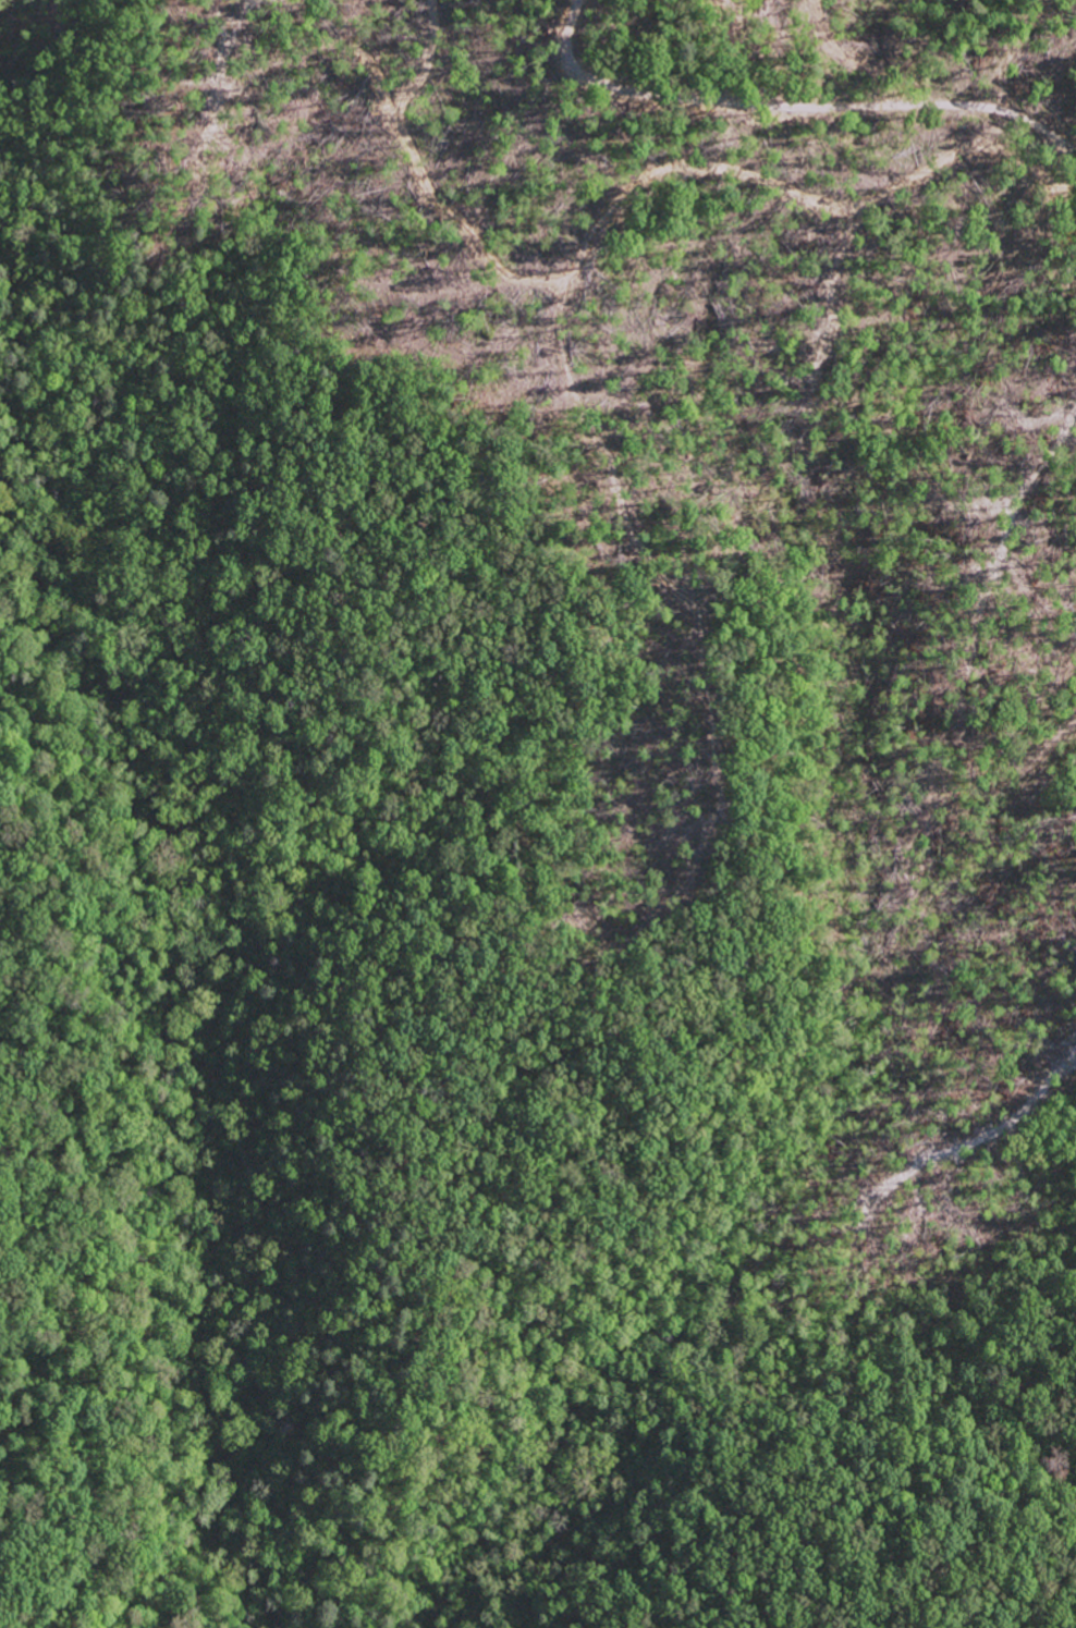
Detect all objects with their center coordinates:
road: (775, 162)

